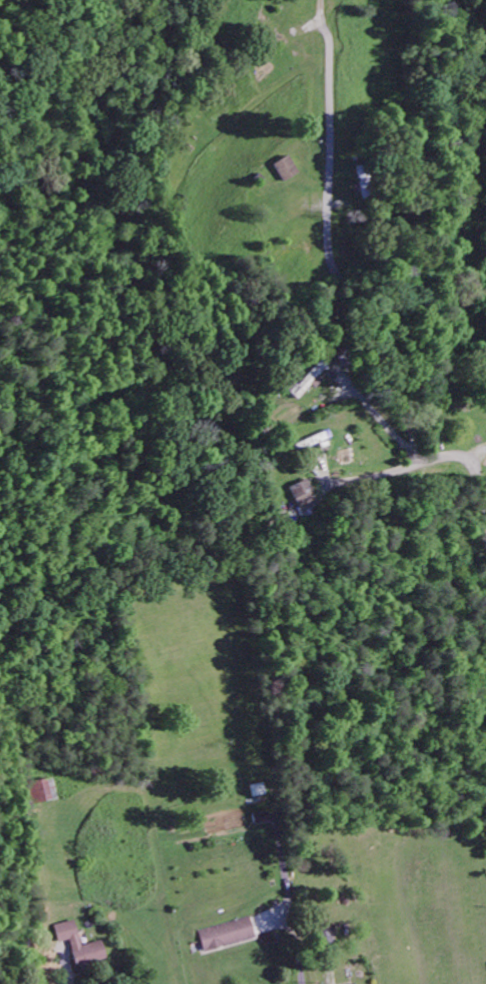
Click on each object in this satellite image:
building: (286, 171)
building: (307, 382)
road: (470, 466)
building: (302, 496)
building: (257, 792)
building: (41, 793)
building: (226, 936)
building: (79, 946)

